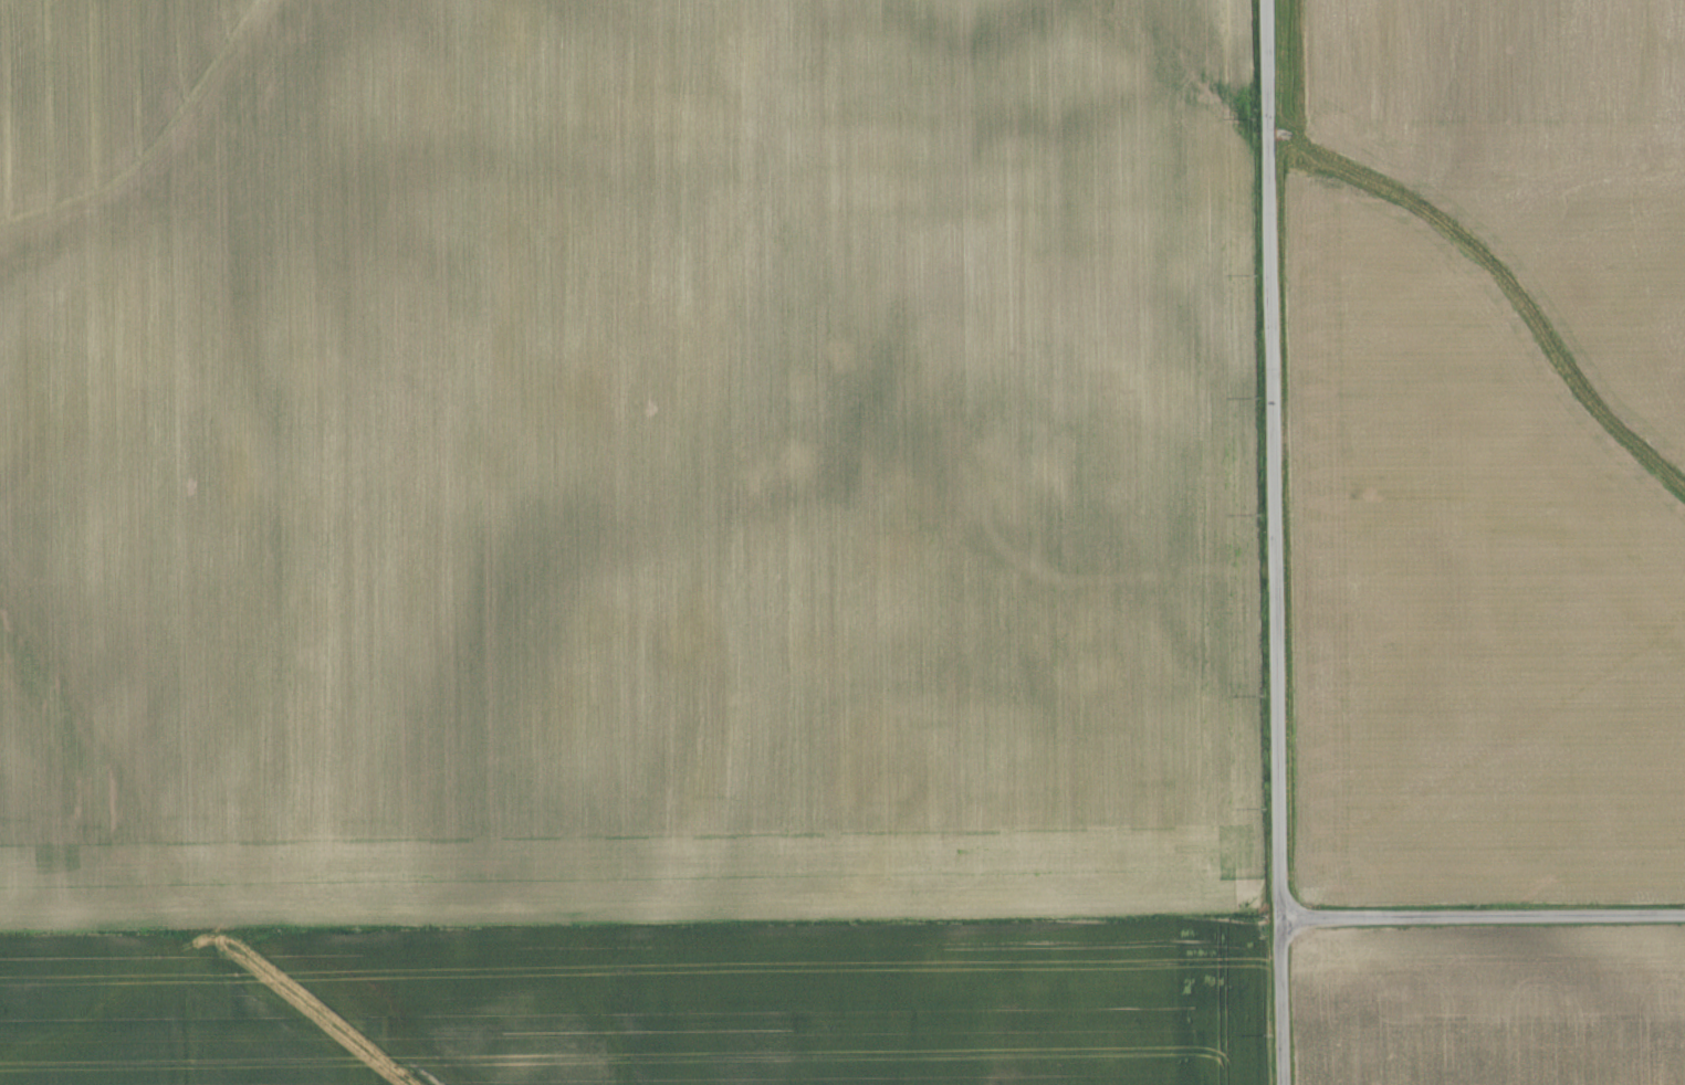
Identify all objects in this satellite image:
road: (1274, 542)
road: (1484, 913)

